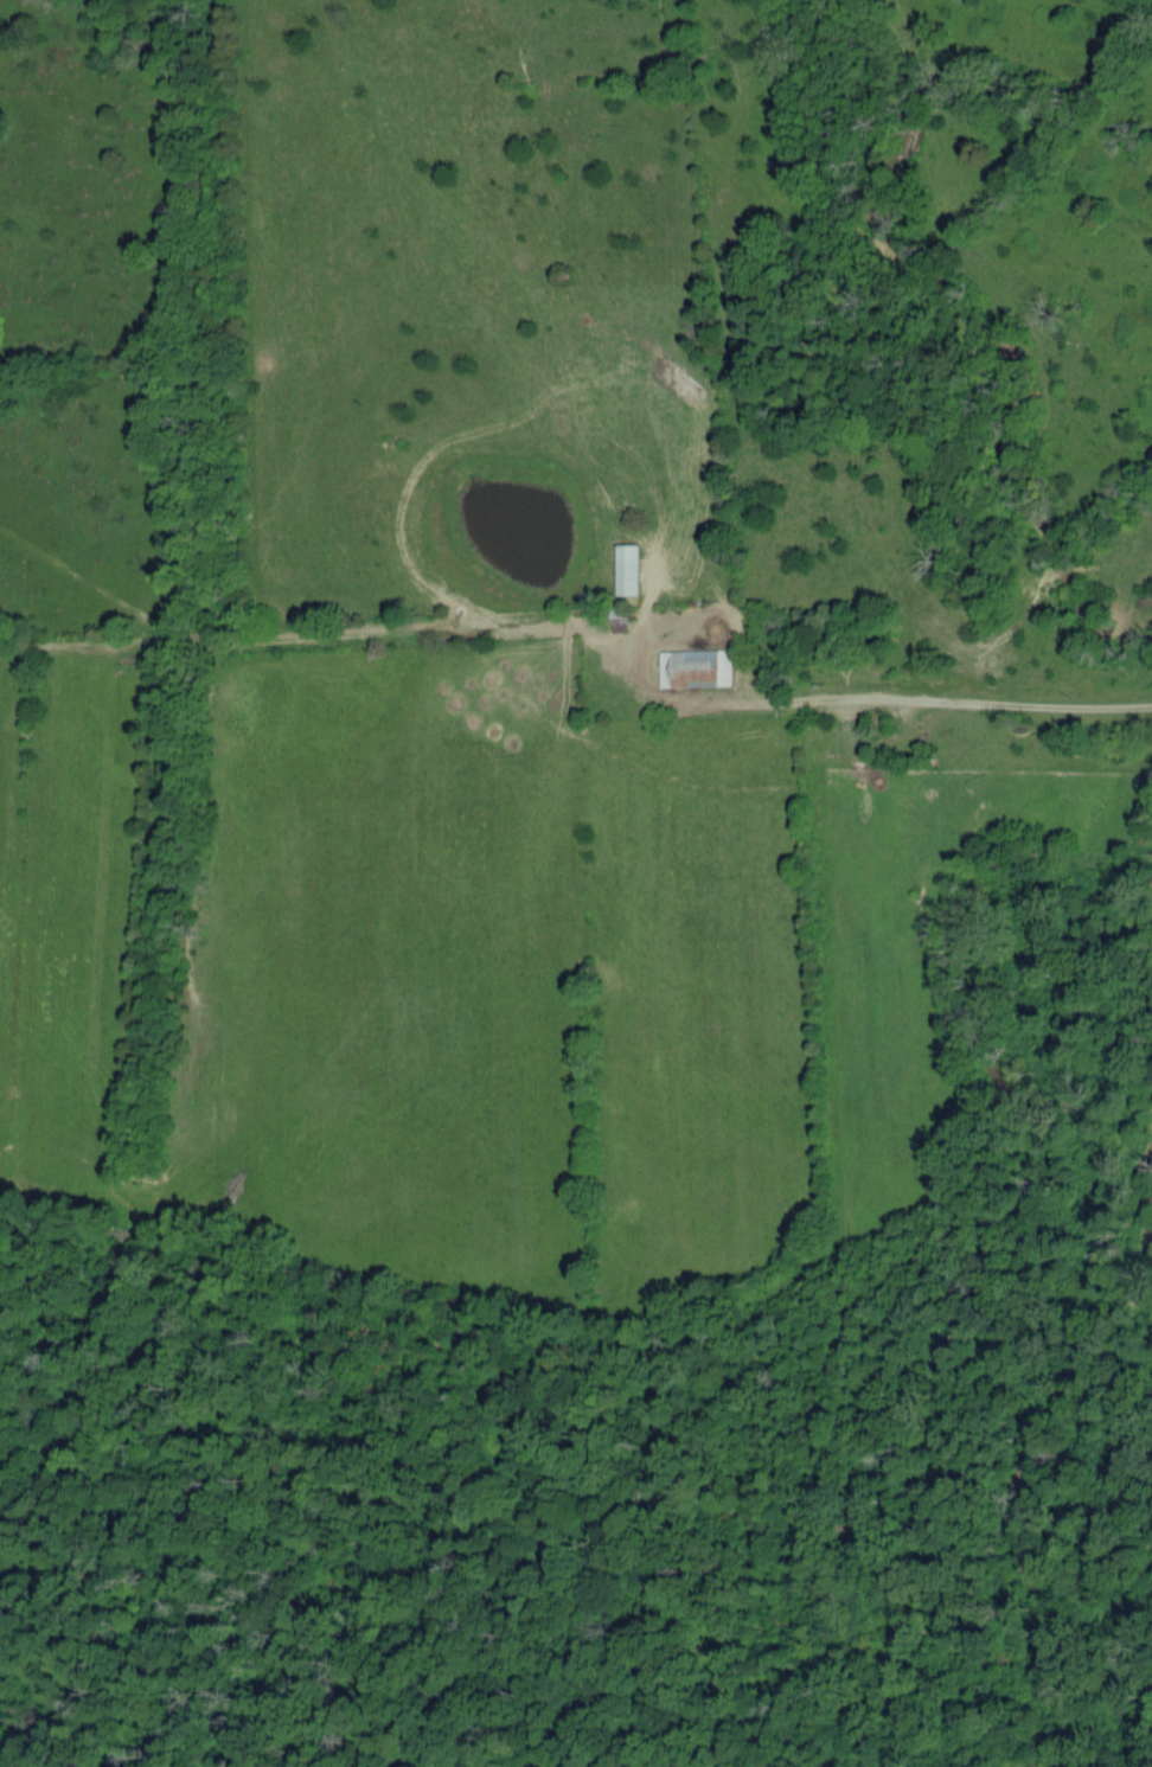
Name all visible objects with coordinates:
building: (696, 668)
road: (967, 712)

